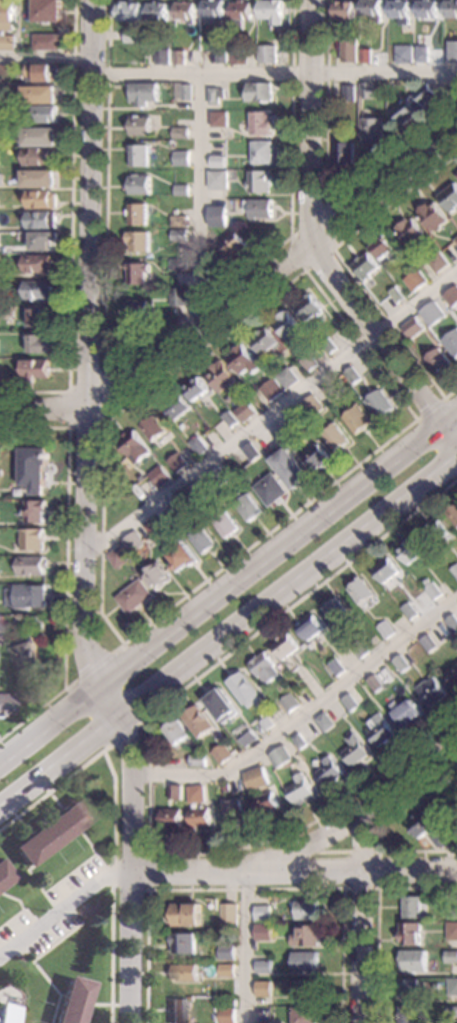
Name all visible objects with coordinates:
building: (450, 8)
building: (212, 9)
building: (343, 9)
building: (371, 9)
building: (426, 9)
building: (47, 10)
building: (157, 10)
building: (184, 10)
building: (271, 10)
building: (399, 10)
building: (127, 11)
building: (239, 13)
building: (6, 15)
building: (131, 36)
building: (45, 41)
building: (7, 42)
building: (348, 49)
building: (452, 49)
building: (267, 53)
building: (403, 53)
building: (421, 53)
building: (221, 55)
building: (238, 55)
building: (365, 55)
building: (161, 56)
road: (45, 57)
building: (178, 57)
building: (43, 72)
road: (273, 73)
building: (366, 90)
building: (185, 91)
building: (258, 91)
building: (348, 92)
building: (39, 93)
building: (143, 93)
building: (214, 95)
building: (414, 103)
building: (39, 112)
building: (218, 118)
road: (311, 121)
building: (259, 122)
building: (139, 125)
building: (179, 127)
building: (371, 128)
building: (39, 135)
building: (261, 151)
building: (344, 151)
building: (138, 154)
building: (40, 155)
building: (180, 157)
building: (216, 160)
building: (456, 174)
building: (39, 177)
building: (1, 178)
building: (217, 179)
building: (258, 180)
building: (138, 184)
road: (325, 186)
building: (180, 189)
building: (450, 196)
building: (41, 198)
road: (197, 199)
building: (216, 204)
building: (257, 208)
road: (322, 210)
building: (174, 212)
building: (137, 213)
building: (433, 215)
building: (216, 216)
building: (41, 219)
building: (179, 220)
road: (71, 229)
building: (410, 230)
building: (179, 234)
building: (41, 239)
building: (456, 239)
building: (138, 240)
building: (230, 246)
building: (387, 248)
building: (438, 262)
building: (37, 263)
building: (177, 264)
building: (365, 265)
road: (344, 266)
road: (273, 269)
building: (137, 272)
building: (415, 280)
building: (37, 289)
building: (396, 293)
building: (178, 296)
building: (451, 296)
road: (326, 299)
building: (308, 306)
building: (137, 309)
building: (433, 312)
building: (39, 316)
building: (287, 324)
building: (413, 326)
building: (263, 340)
building: (452, 342)
building: (40, 343)
road: (88, 343)
road: (383, 343)
building: (329, 344)
road: (141, 349)
building: (242, 359)
building: (439, 360)
building: (309, 361)
building: (34, 369)
building: (352, 374)
building: (220, 375)
building: (287, 377)
road: (104, 379)
building: (195, 388)
building: (271, 389)
building: (329, 390)
building: (326, 403)
building: (380, 403)
building: (310, 405)
building: (176, 406)
road: (44, 408)
road: (430, 408)
building: (244, 411)
road: (271, 411)
building: (229, 418)
building: (294, 418)
building: (357, 418)
building: (153, 428)
building: (335, 436)
building: (134, 445)
building: (198, 445)
building: (250, 451)
building: (316, 456)
building: (176, 461)
building: (290, 467)
building: (34, 468)
building: (159, 475)
building: (219, 475)
building: (271, 489)
building: (197, 491)
building: (247, 505)
building: (177, 507)
building: (35, 510)
building: (454, 514)
building: (224, 521)
building: (154, 526)
building: (435, 531)
building: (33, 538)
building: (202, 538)
building: (132, 541)
road: (280, 548)
building: (411, 550)
building: (183, 555)
building: (118, 556)
building: (32, 564)
road: (66, 565)
building: (454, 569)
building: (386, 571)
building: (157, 576)
road: (288, 589)
building: (360, 589)
building: (432, 590)
building: (26, 595)
building: (135, 595)
building: (335, 610)
building: (408, 610)
building: (40, 616)
building: (19, 621)
building: (452, 621)
building: (310, 626)
building: (385, 629)
building: (373, 639)
building: (428, 642)
building: (286, 645)
building: (359, 648)
building: (30, 656)
building: (399, 662)
road: (93, 666)
building: (335, 666)
building: (265, 668)
building: (452, 674)
building: (374, 682)
building: (245, 689)
building: (430, 690)
road: (111, 699)
building: (349, 701)
building: (288, 702)
building: (221, 703)
building: (3, 705)
road: (304, 712)
building: (405, 712)
building: (199, 720)
road: (51, 721)
building: (323, 721)
building: (266, 722)
building: (378, 729)
building: (177, 731)
building: (245, 735)
road: (113, 740)
building: (298, 740)
road: (129, 744)
building: (353, 750)
building: (222, 753)
road: (105, 756)
building: (278, 756)
building: (197, 759)
road: (59, 762)
road: (148, 766)
building: (327, 770)
building: (255, 777)
building: (223, 786)
building: (456, 786)
building: (298, 789)
building: (175, 791)
building: (195, 793)
building: (265, 802)
building: (442, 806)
building: (231, 810)
building: (199, 816)
building: (170, 817)
road: (131, 823)
building: (419, 823)
road: (377, 825)
building: (50, 832)
road: (112, 834)
building: (453, 835)
building: (438, 838)
road: (85, 842)
road: (307, 846)
road: (323, 851)
road: (360, 870)
road: (377, 871)
road: (26, 872)
road: (147, 872)
road: (70, 874)
building: (3, 876)
road: (245, 888)
road: (13, 901)
building: (411, 906)
parking lot: (61, 909)
road: (62, 909)
building: (305, 909)
road: (20, 912)
building: (261, 912)
building: (185, 913)
building: (452, 913)
building: (227, 914)
road: (376, 915)
road: (361, 918)
building: (451, 930)
building: (262, 931)
building: (409, 932)
building: (305, 935)
building: (182, 942)
road: (55, 943)
road: (129, 947)
road: (244, 948)
building: (226, 951)
building: (451, 956)
building: (412, 959)
building: (303, 961)
building: (262, 966)
building: (225, 969)
building: (184, 971)
building: (452, 985)
building: (262, 987)
building: (305, 988)
building: (409, 989)
road: (12, 993)
road: (55, 993)
building: (216, 998)
building: (71, 1001)
building: (231, 1002)
building: (265, 1009)
building: (178, 1011)
building: (451, 1011)
building: (7, 1013)
building: (303, 1014)
building: (409, 1014)
building: (225, 1015)
building: (261, 1022)

